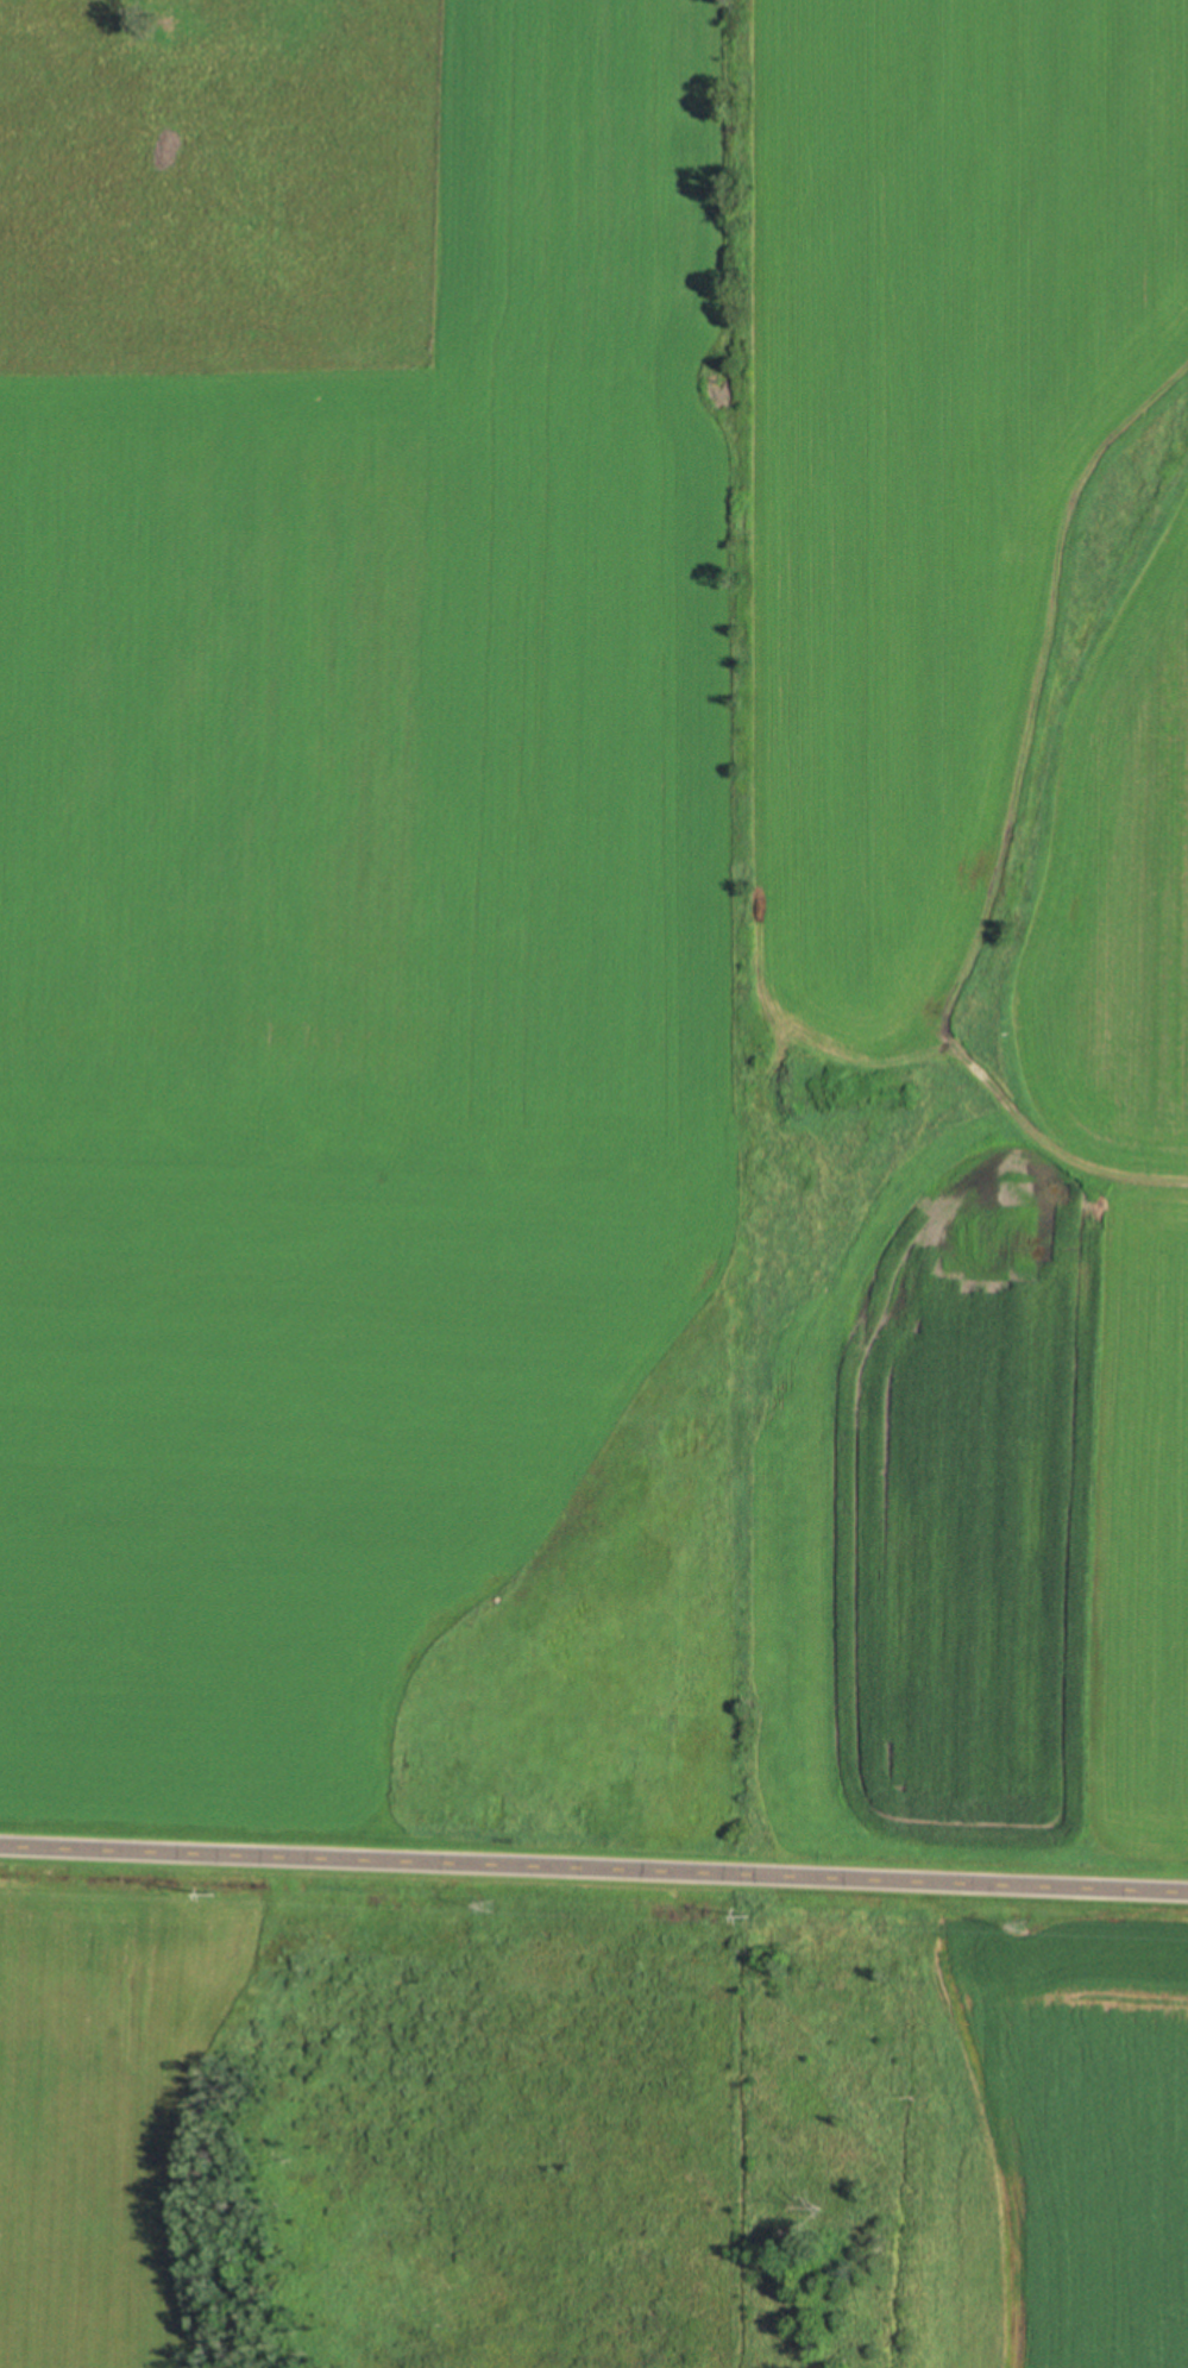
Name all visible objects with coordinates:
road: (593, 1865)
power tower: (486, 1908)
power tower: (1016, 1927)

